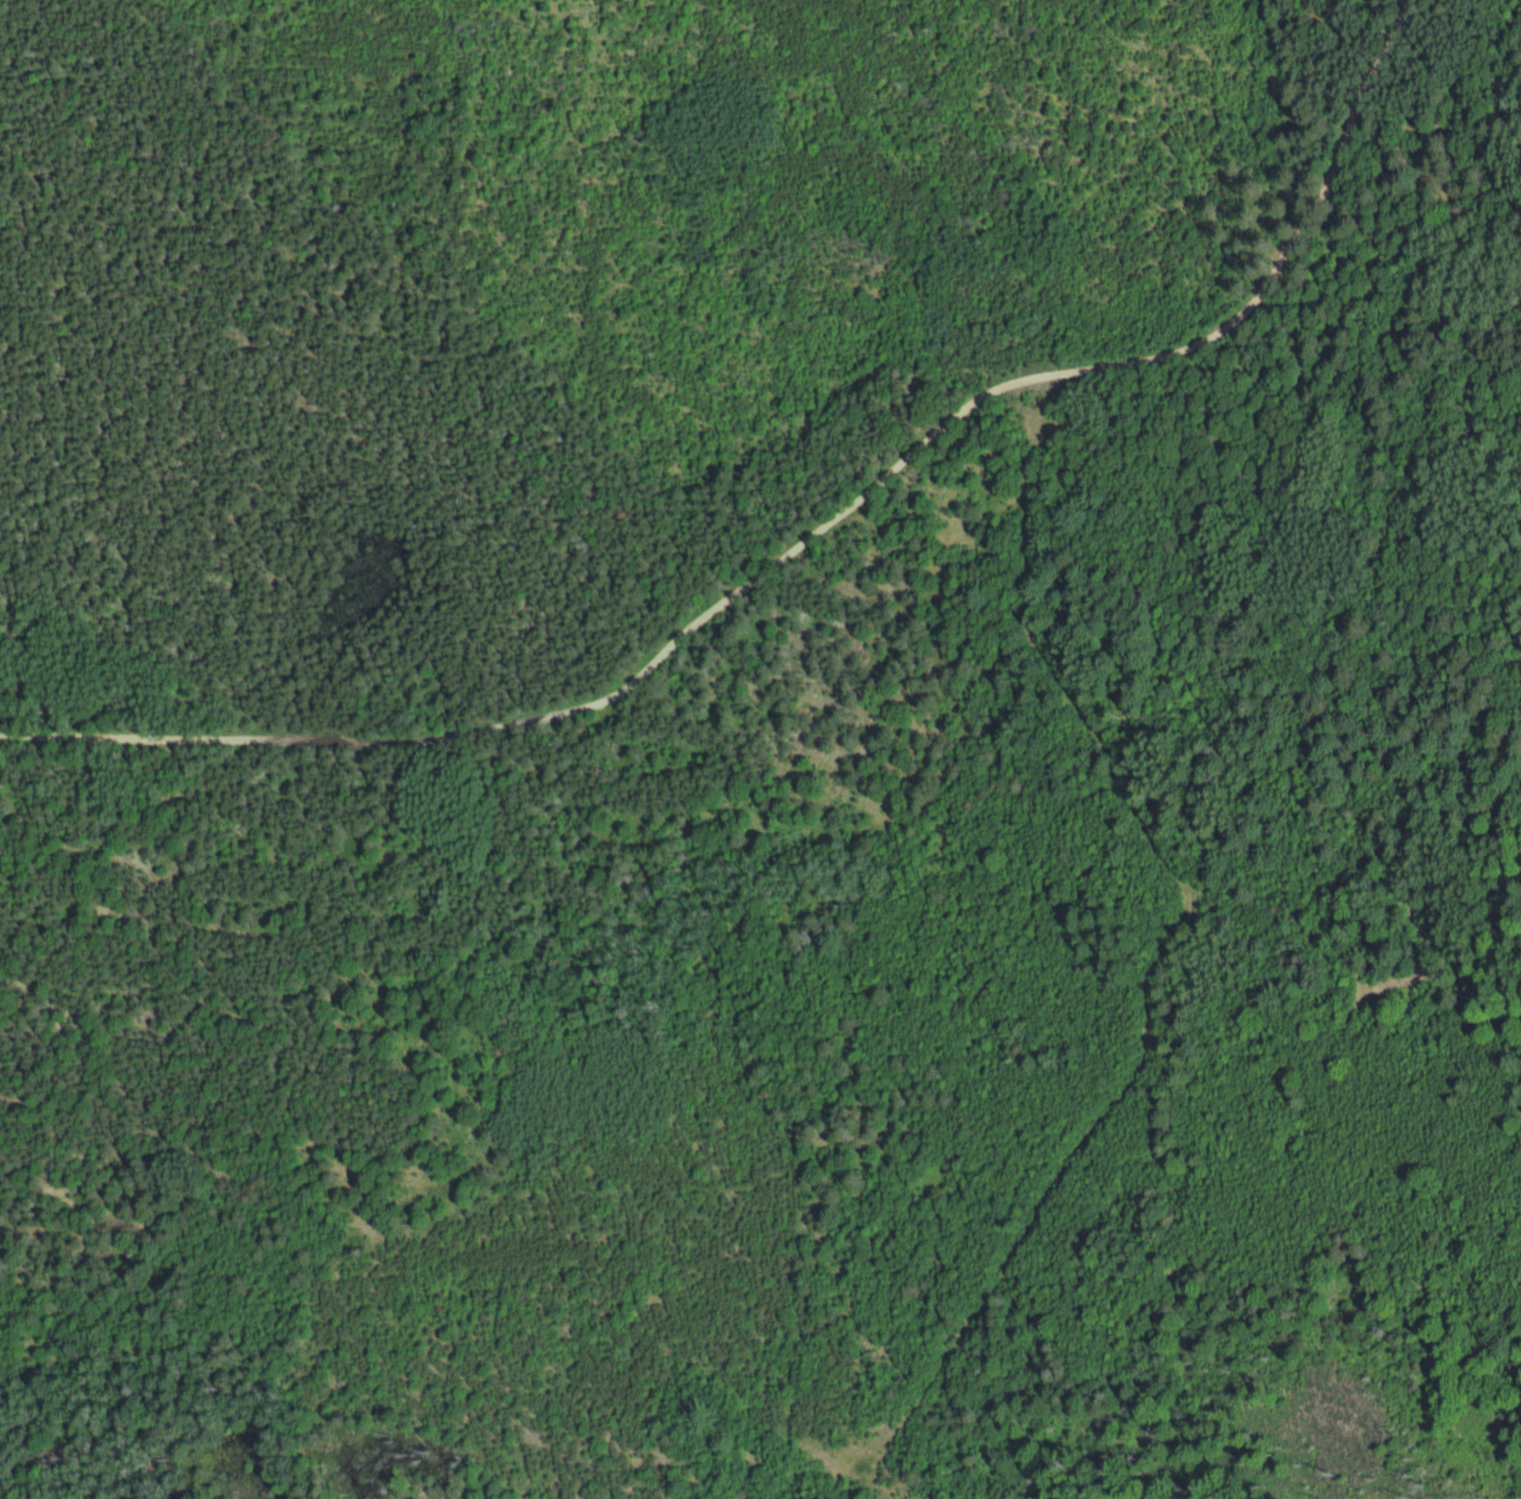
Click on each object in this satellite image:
road: (794, 525)

